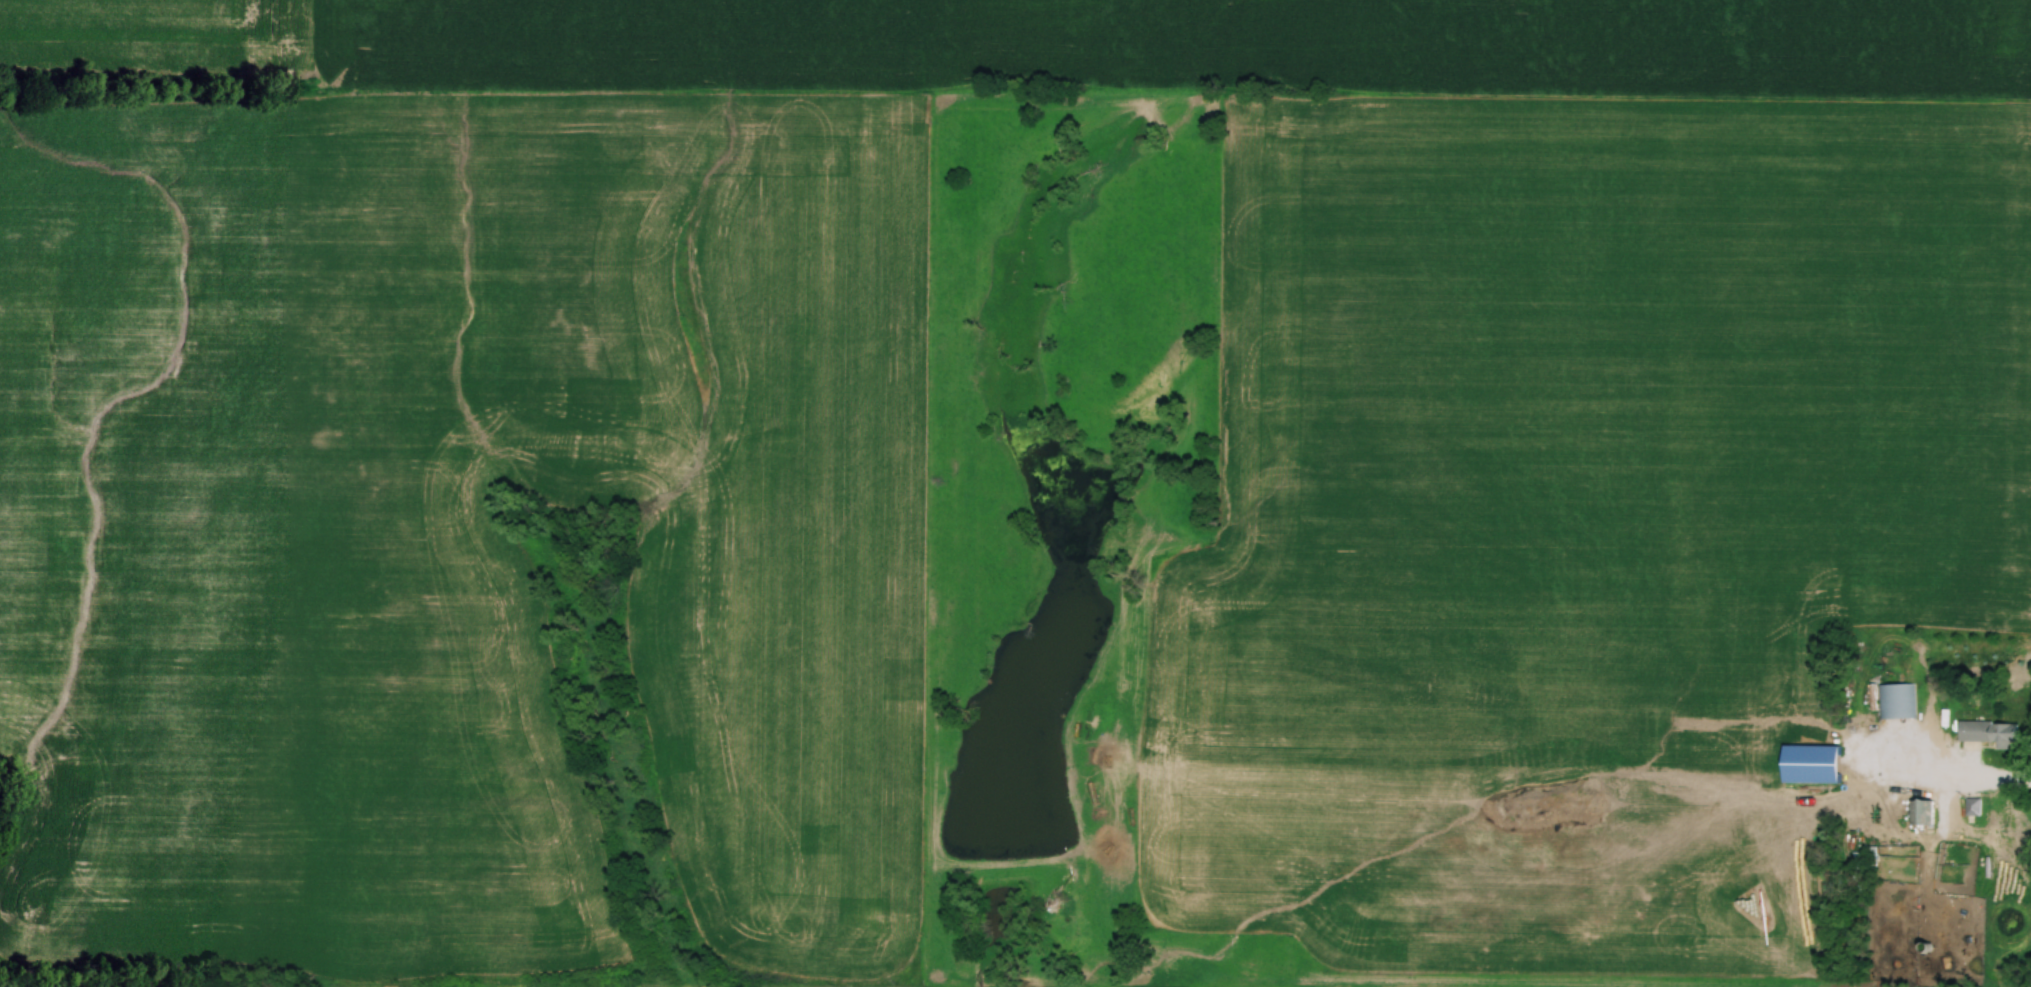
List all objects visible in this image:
building: (1897, 701)
building: (1992, 733)
building: (1815, 764)
road: (1999, 781)
road: (1874, 804)
building: (1975, 807)
building: (1918, 813)

